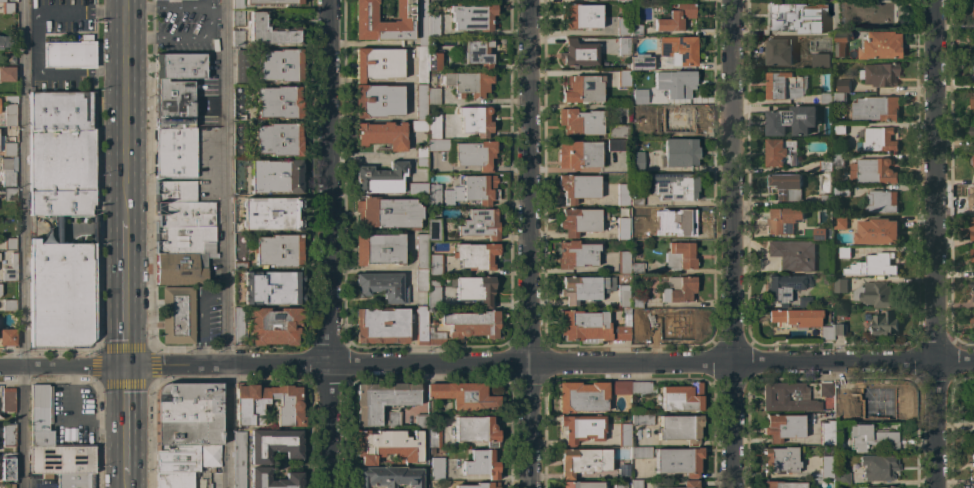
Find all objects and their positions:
building: (475, 0)
building: (620, 0)
building: (826, 0)
building: (2, 1)
building: (618, 1)
building: (272, 2)
road: (211, 4)
building: (238, 4)
building: (7, 8)
road: (168, 8)
road: (218, 8)
building: (971, 10)
building: (580, 16)
building: (795, 16)
building: (471, 17)
building: (675, 17)
building: (238, 18)
building: (364, 19)
building: (421, 22)
building: (432, 25)
building: (622, 26)
building: (635, 30)
building: (270, 31)
road: (181, 38)
building: (238, 38)
building: (972, 39)
road: (36, 40)
building: (3, 41)
building: (841, 42)
building: (879, 45)
building: (621, 46)
building: (678, 51)
building: (780, 51)
building: (70, 53)
building: (477, 53)
building: (578, 53)
building: (7, 57)
building: (434, 60)
building: (826, 61)
building: (640, 62)
building: (377, 64)
building: (420, 64)
building: (279, 65)
building: (179, 66)
building: (241, 66)
building: (972, 67)
building: (6, 73)
building: (879, 74)
building: (623, 78)
road: (397, 79)
road: (343, 81)
road: (358, 81)
building: (677, 81)
building: (468, 83)
building: (785, 84)
building: (843, 84)
building: (582, 89)
building: (433, 96)
building: (637, 96)
building: (832, 97)
building: (649, 98)
building: (972, 100)
building: (376, 101)
building: (420, 102)
building: (268, 103)
building: (174, 104)
road: (125, 105)
building: (875, 108)
building: (9, 114)
road: (383, 118)
building: (677, 118)
building: (791, 119)
building: (474, 120)
building: (580, 122)
building: (418, 126)
building: (433, 126)
building: (840, 128)
building: (617, 130)
building: (972, 130)
building: (635, 132)
building: (382, 134)
building: (878, 138)
building: (269, 139)
building: (437, 145)
building: (618, 145)
building: (7, 148)
building: (174, 152)
building: (680, 152)
building: (782, 152)
building: (61, 154)
building: (579, 154)
building: (475, 155)
road: (369, 156)
building: (421, 156)
building: (839, 159)
building: (972, 160)
building: (636, 161)
building: (825, 165)
building: (873, 170)
building: (8, 171)
building: (266, 176)
building: (381, 179)
building: (786, 185)
building: (674, 186)
building: (578, 187)
building: (417, 188)
building: (476, 188)
building: (842, 190)
building: (9, 194)
building: (623, 194)
building: (433, 195)
building: (972, 198)
building: (827, 199)
building: (636, 200)
building: (881, 201)
building: (386, 213)
building: (266, 214)
building: (182, 219)
building: (783, 219)
building: (581, 220)
building: (840, 222)
building: (479, 223)
building: (681, 223)
building: (636, 224)
building: (59, 228)
building: (622, 228)
building: (972, 228)
building: (433, 230)
building: (878, 231)
building: (827, 233)
building: (9, 243)
road: (227, 243)
road: (329, 243)
road: (23, 244)
road: (529, 244)
road: (731, 244)
road: (935, 244)
building: (268, 249)
building: (377, 249)
building: (637, 250)
building: (421, 251)
building: (844, 251)
building: (578, 254)
building: (793, 254)
building: (972, 254)
building: (475, 255)
building: (679, 256)
building: (623, 261)
building: (435, 264)
building: (874, 264)
building: (180, 268)
building: (636, 268)
building: (11, 269)
building: (973, 269)
building: (826, 278)
building: (421, 280)
building: (840, 284)
building: (382, 286)
building: (972, 286)
building: (266, 287)
building: (785, 287)
road: (124, 288)
building: (474, 289)
building: (677, 289)
building: (594, 290)
building: (61, 293)
building: (874, 293)
building: (433, 295)
building: (636, 302)
building: (804, 302)
building: (9, 305)
building: (637, 311)
building: (795, 318)
building: (972, 319)
building: (178, 320)
road: (202, 320)
building: (672, 323)
building: (884, 323)
building: (381, 325)
building: (421, 325)
building: (238, 326)
building: (275, 326)
building: (464, 326)
building: (592, 326)
building: (839, 329)
building: (826, 330)
building: (7, 337)
road: (486, 362)
traffic signals: (124, 366)
building: (620, 388)
building: (642, 388)
building: (824, 389)
building: (464, 395)
building: (582, 397)
building: (681, 397)
building: (775, 398)
building: (8, 399)
building: (383, 402)
building: (972, 403)
building: (839, 404)
building: (267, 405)
building: (873, 406)
road: (78, 414)
building: (187, 414)
building: (40, 415)
building: (0, 418)
building: (641, 419)
building: (421, 421)
road: (124, 422)
building: (782, 427)
building: (581, 428)
building: (679, 428)
building: (476, 430)
building: (825, 433)
building: (8, 434)
building: (623, 434)
building: (433, 435)
building: (867, 436)
building: (972, 443)
building: (274, 444)
building: (388, 446)
building: (641, 452)
building: (186, 458)
building: (780, 459)
building: (61, 460)
building: (238, 460)
building: (583, 461)
building: (678, 461)
building: (972, 461)
building: (825, 462)
building: (481, 464)
building: (878, 467)
building: (436, 469)
building: (9, 471)
building: (623, 473)
building: (259, 475)
building: (387, 477)
building: (841, 478)
building: (174, 480)
building: (75, 481)
road: (124, 483)
building: (690, 483)
building: (583, 484)
building: (636, 484)
building: (782, 484)
building: (7, 485)
building: (480, 485)
building: (620, 485)
road: (611, 487)
building: (880, 487)

